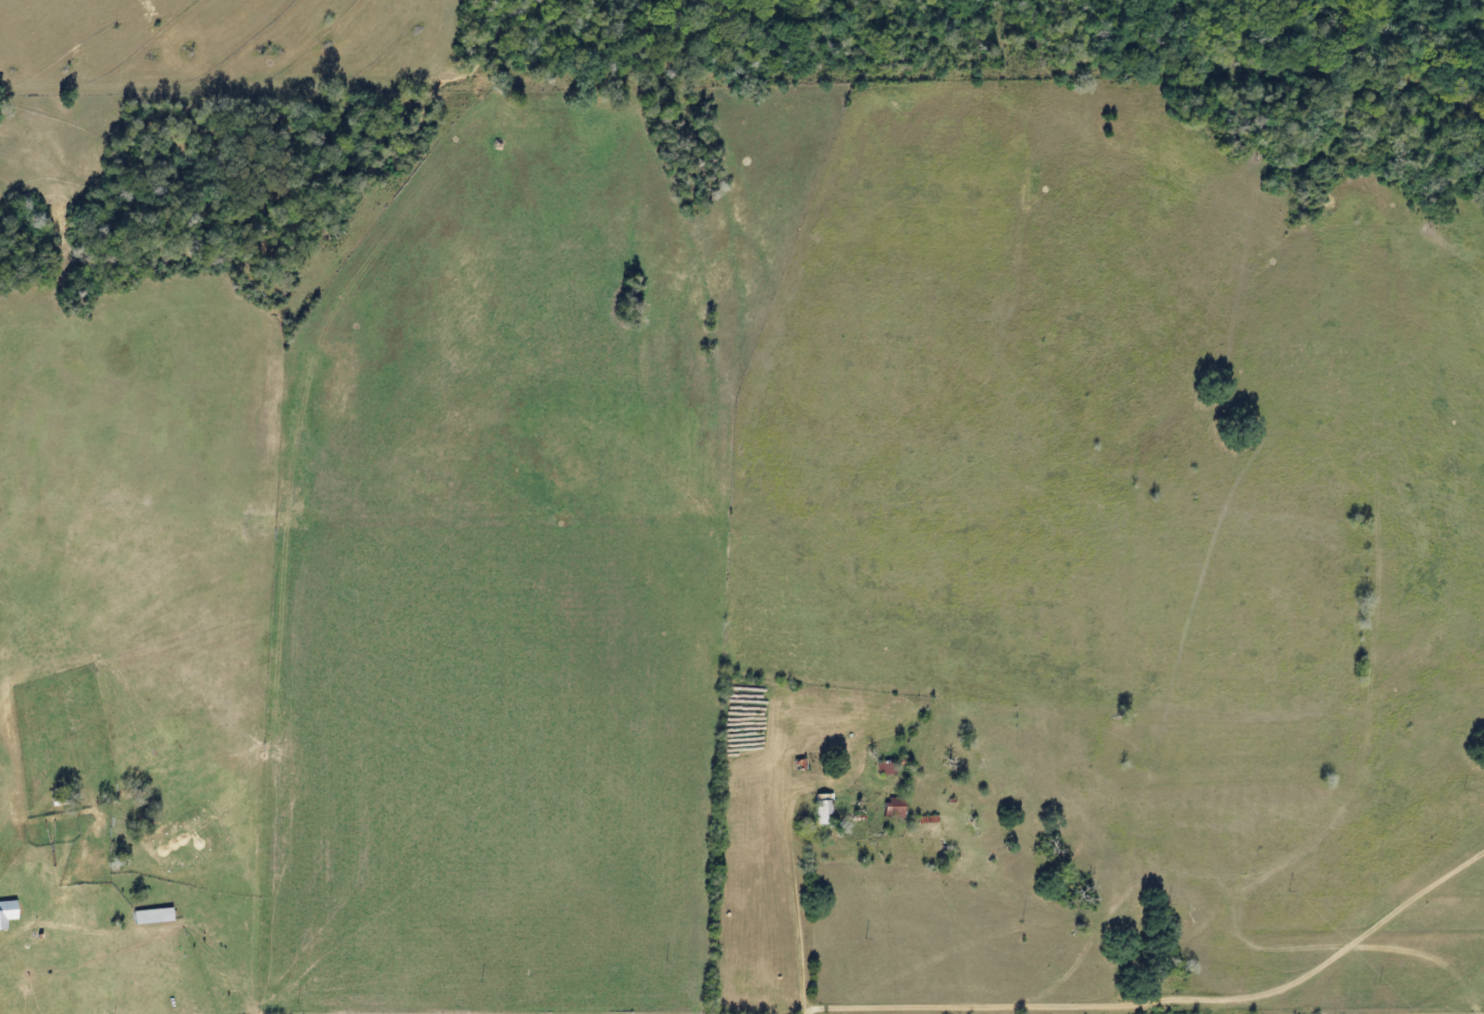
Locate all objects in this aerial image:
road: (1038, 745)
building: (882, 768)
building: (889, 807)
building: (818, 808)
building: (5, 912)
building: (148, 915)

